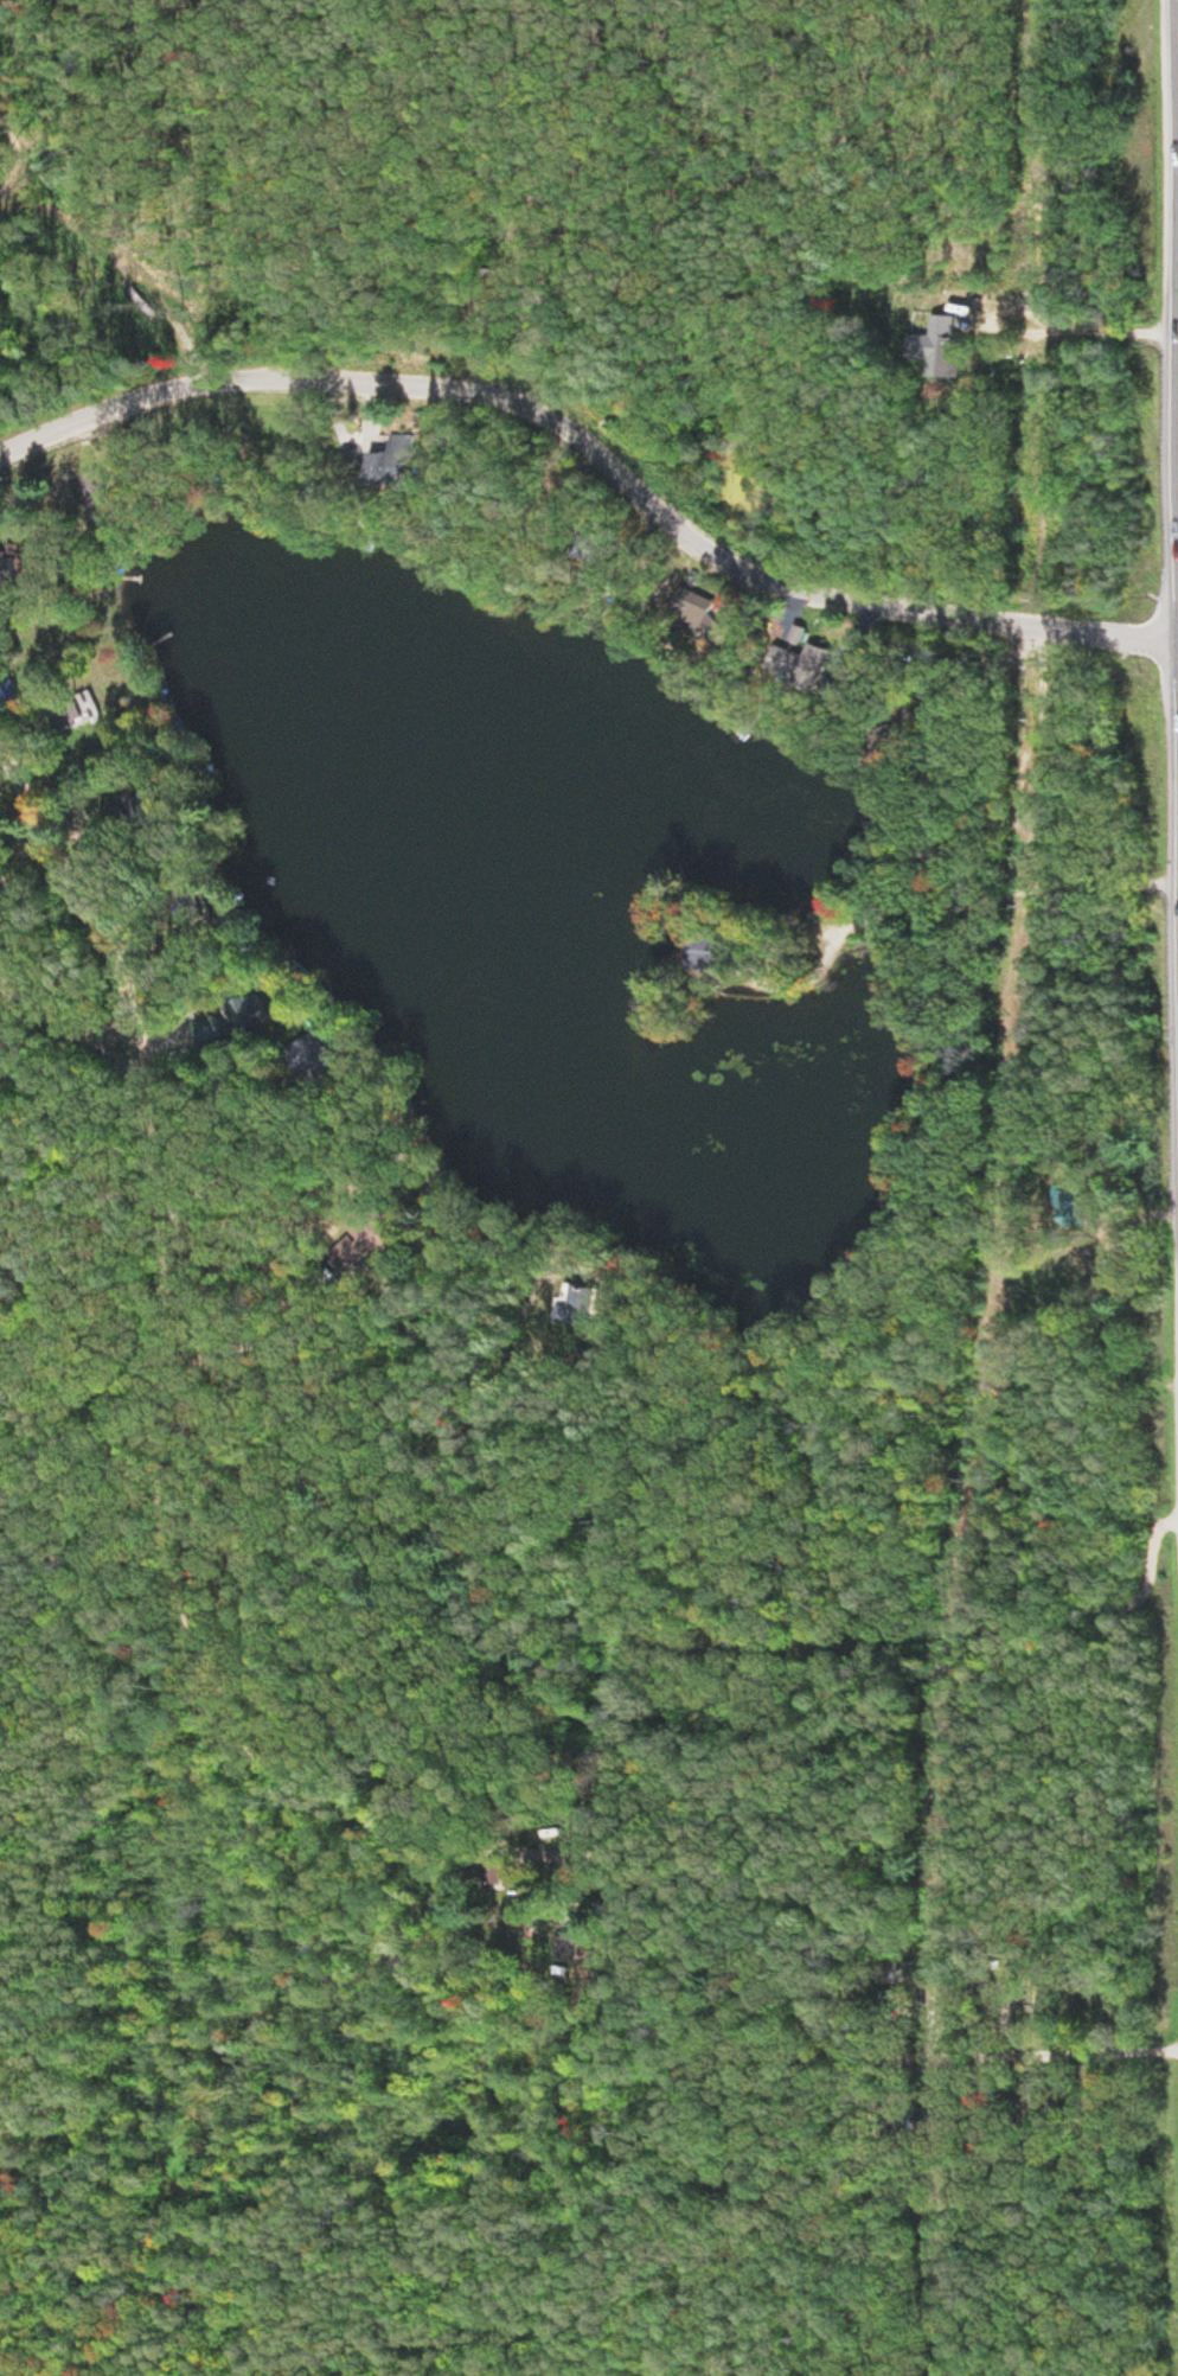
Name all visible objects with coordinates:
building: (934, 347)
road: (601, 434)
building: (399, 470)
building: (23, 568)
building: (27, 695)
building: (91, 713)
road: (70, 870)
road: (955, 888)
building: (719, 952)
building: (277, 1013)
road: (65, 1024)
building: (224, 1030)
road: (159, 1391)
road: (552, 1846)
road: (987, 2040)

